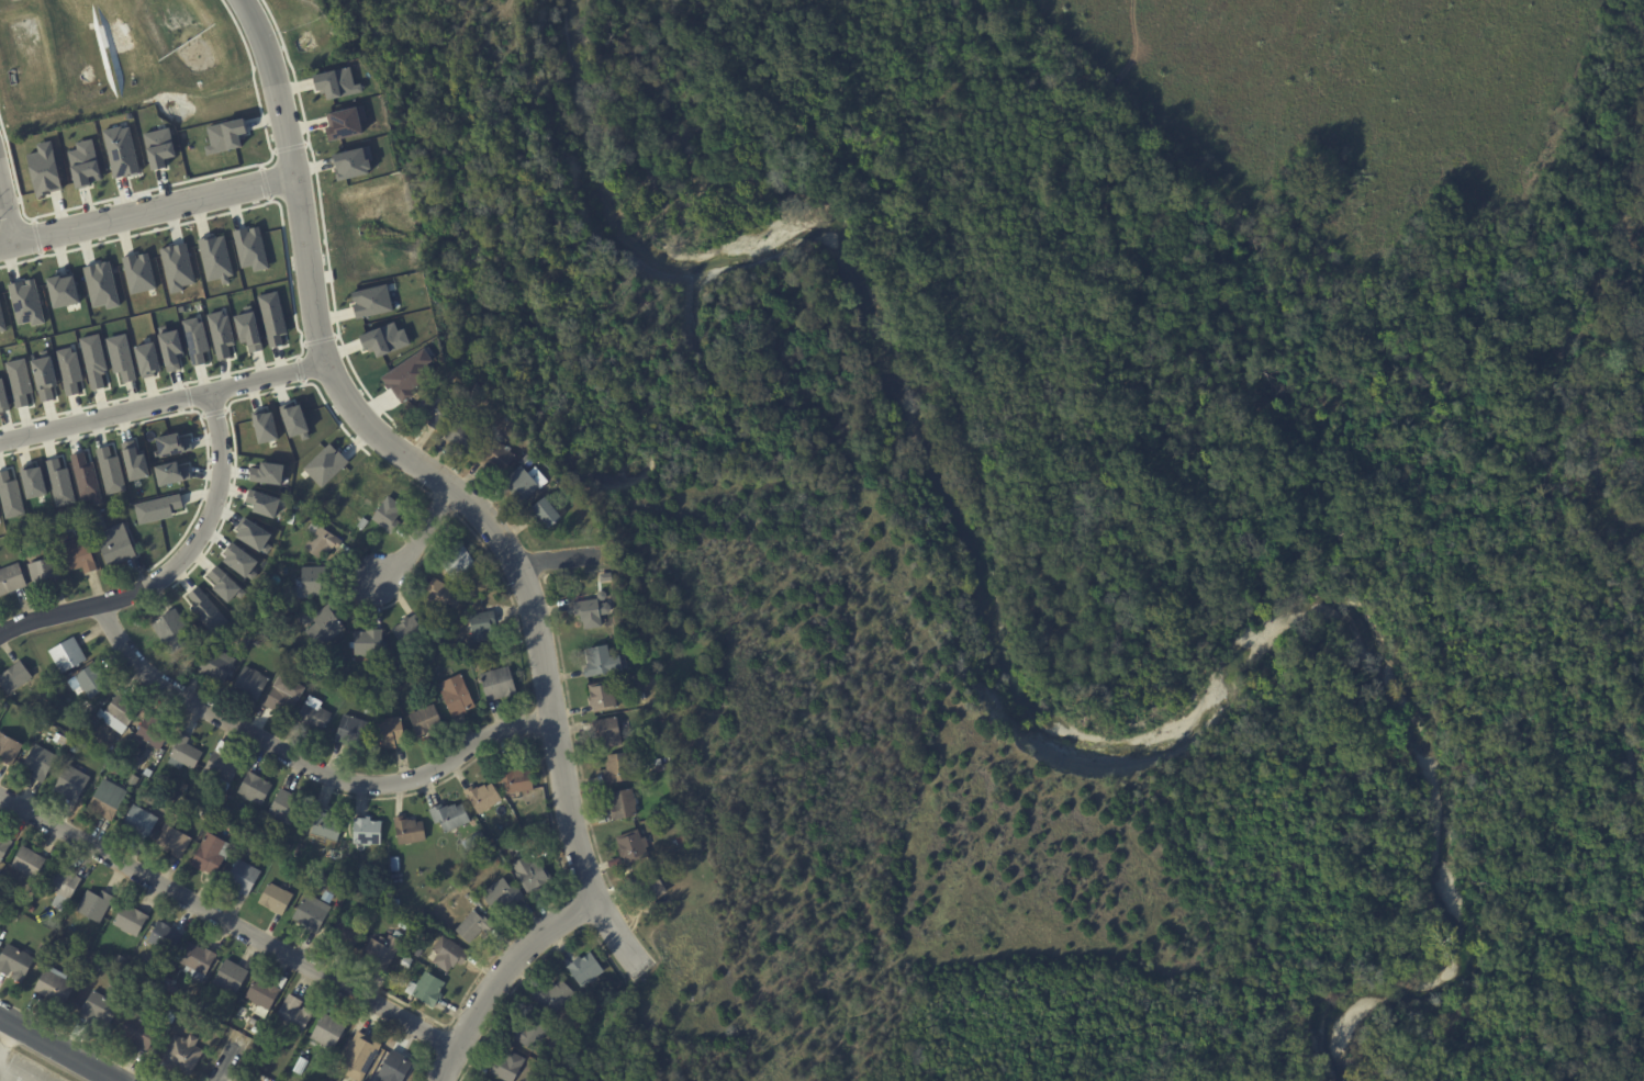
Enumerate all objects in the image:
building: (335, 83)
building: (127, 115)
building: (344, 122)
building: (224, 136)
building: (158, 147)
road: (289, 147)
building: (120, 151)
building: (351, 162)
building: (82, 164)
building: (43, 170)
road: (179, 182)
road: (265, 183)
road: (147, 211)
road: (7, 214)
road: (323, 230)
road: (35, 236)
building: (249, 248)
building: (214, 258)
building: (176, 267)
building: (137, 272)
building: (101, 284)
road: (291, 290)
building: (61, 291)
building: (370, 301)
building: (25, 302)
building: (186, 308)
building: (179, 309)
building: (271, 317)
building: (1, 323)
building: (247, 330)
building: (220, 334)
road: (320, 339)
building: (383, 339)
building: (194, 340)
building: (170, 349)
building: (120, 357)
building: (146, 359)
building: (92, 360)
building: (68, 370)
road: (299, 370)
building: (406, 374)
building: (43, 378)
building: (18, 381)
road: (188, 396)
building: (3, 397)
road: (161, 402)
building: (432, 410)
road: (187, 412)
road: (213, 413)
road: (228, 416)
building: (507, 419)
building: (293, 420)
building: (264, 426)
building: (461, 437)
building: (171, 444)
building: (495, 457)
building: (524, 459)
building: (134, 461)
building: (324, 464)
building: (110, 471)
building: (170, 473)
building: (266, 473)
building: (85, 478)
road: (440, 480)
building: (32, 481)
building: (58, 483)
building: (518, 484)
road: (418, 486)
building: (10, 496)
building: (262, 504)
building: (295, 504)
road: (440, 504)
building: (157, 508)
building: (389, 514)
building: (545, 514)
building: (292, 519)
road: (443, 523)
building: (364, 525)
building: (58, 527)
building: (253, 536)
road: (418, 539)
building: (324, 544)
building: (118, 545)
building: (80, 554)
building: (465, 558)
road: (563, 559)
building: (239, 561)
road: (174, 565)
building: (46, 571)
road: (523, 577)
building: (604, 577)
building: (12, 578)
building: (314, 582)
building: (224, 585)
building: (444, 595)
building: (203, 608)
building: (586, 615)
building: (484, 626)
building: (327, 627)
building: (174, 629)
building: (412, 631)
building: (249, 635)
building: (370, 641)
building: (627, 649)
building: (70, 654)
building: (465, 660)
building: (599, 662)
building: (219, 663)
building: (410, 665)
building: (309, 667)
building: (54, 674)
building: (16, 677)
building: (91, 682)
building: (255, 682)
building: (373, 682)
building: (500, 683)
building: (292, 684)
building: (59, 686)
building: (459, 697)
building: (641, 697)
building: (1, 699)
building: (599, 699)
building: (282, 702)
building: (0, 708)
building: (86, 709)
building: (368, 710)
building: (122, 713)
building: (315, 714)
road: (570, 717)
building: (428, 721)
building: (354, 731)
building: (393, 731)
building: (155, 732)
building: (606, 733)
building: (10, 744)
building: (651, 746)
building: (186, 753)
building: (42, 761)
road: (304, 764)
building: (223, 767)
building: (659, 767)
building: (116, 770)
building: (612, 770)
building: (77, 779)
building: (518, 779)
building: (135, 780)
building: (187, 787)
building: (256, 788)
building: (484, 797)
building: (109, 799)
building: (620, 804)
building: (287, 806)
building: (203, 814)
building: (450, 817)
building: (143, 821)
building: (214, 824)
building: (328, 826)
building: (369, 831)
building: (410, 831)
road: (553, 835)
building: (176, 837)
building: (679, 841)
building: (474, 842)
building: (248, 843)
building: (5, 847)
building: (629, 847)
building: (364, 853)
building: (214, 854)
building: (31, 863)
building: (395, 864)
building: (288, 866)
building: (535, 874)
building: (246, 878)
building: (649, 883)
building: (64, 887)
building: (336, 888)
building: (1, 890)
building: (506, 893)
building: (277, 898)
building: (398, 903)
building: (97, 905)
road: (578, 909)
building: (32, 910)
building: (314, 911)
building: (132, 920)
road: (227, 922)
building: (406, 924)
building: (476, 927)
building: (347, 934)
building: (167, 938)
building: (384, 951)
building: (43, 953)
building: (420, 953)
building: (452, 956)
building: (202, 958)
building: (121, 959)
building: (18, 962)
road: (533, 968)
building: (588, 969)
building: (234, 976)
road: (497, 976)
building: (168, 982)
building: (57, 987)
building: (429, 990)
building: (174, 991)
building: (267, 992)
building: (556, 994)
building: (102, 1010)
building: (298, 1014)
building: (172, 1015)
building: (183, 1017)
building: (580, 1027)
building: (170, 1029)
building: (258, 1031)
building: (142, 1032)
building: (333, 1032)
building: (533, 1034)
road: (462, 1035)
road: (7, 1037)
road: (58, 1048)
building: (365, 1054)
building: (184, 1055)
road: (42, 1057)
road: (227, 1057)
building: (300, 1066)
building: (510, 1066)
parking lot: (22, 1068)
building: (396, 1068)
building: (541, 1068)

